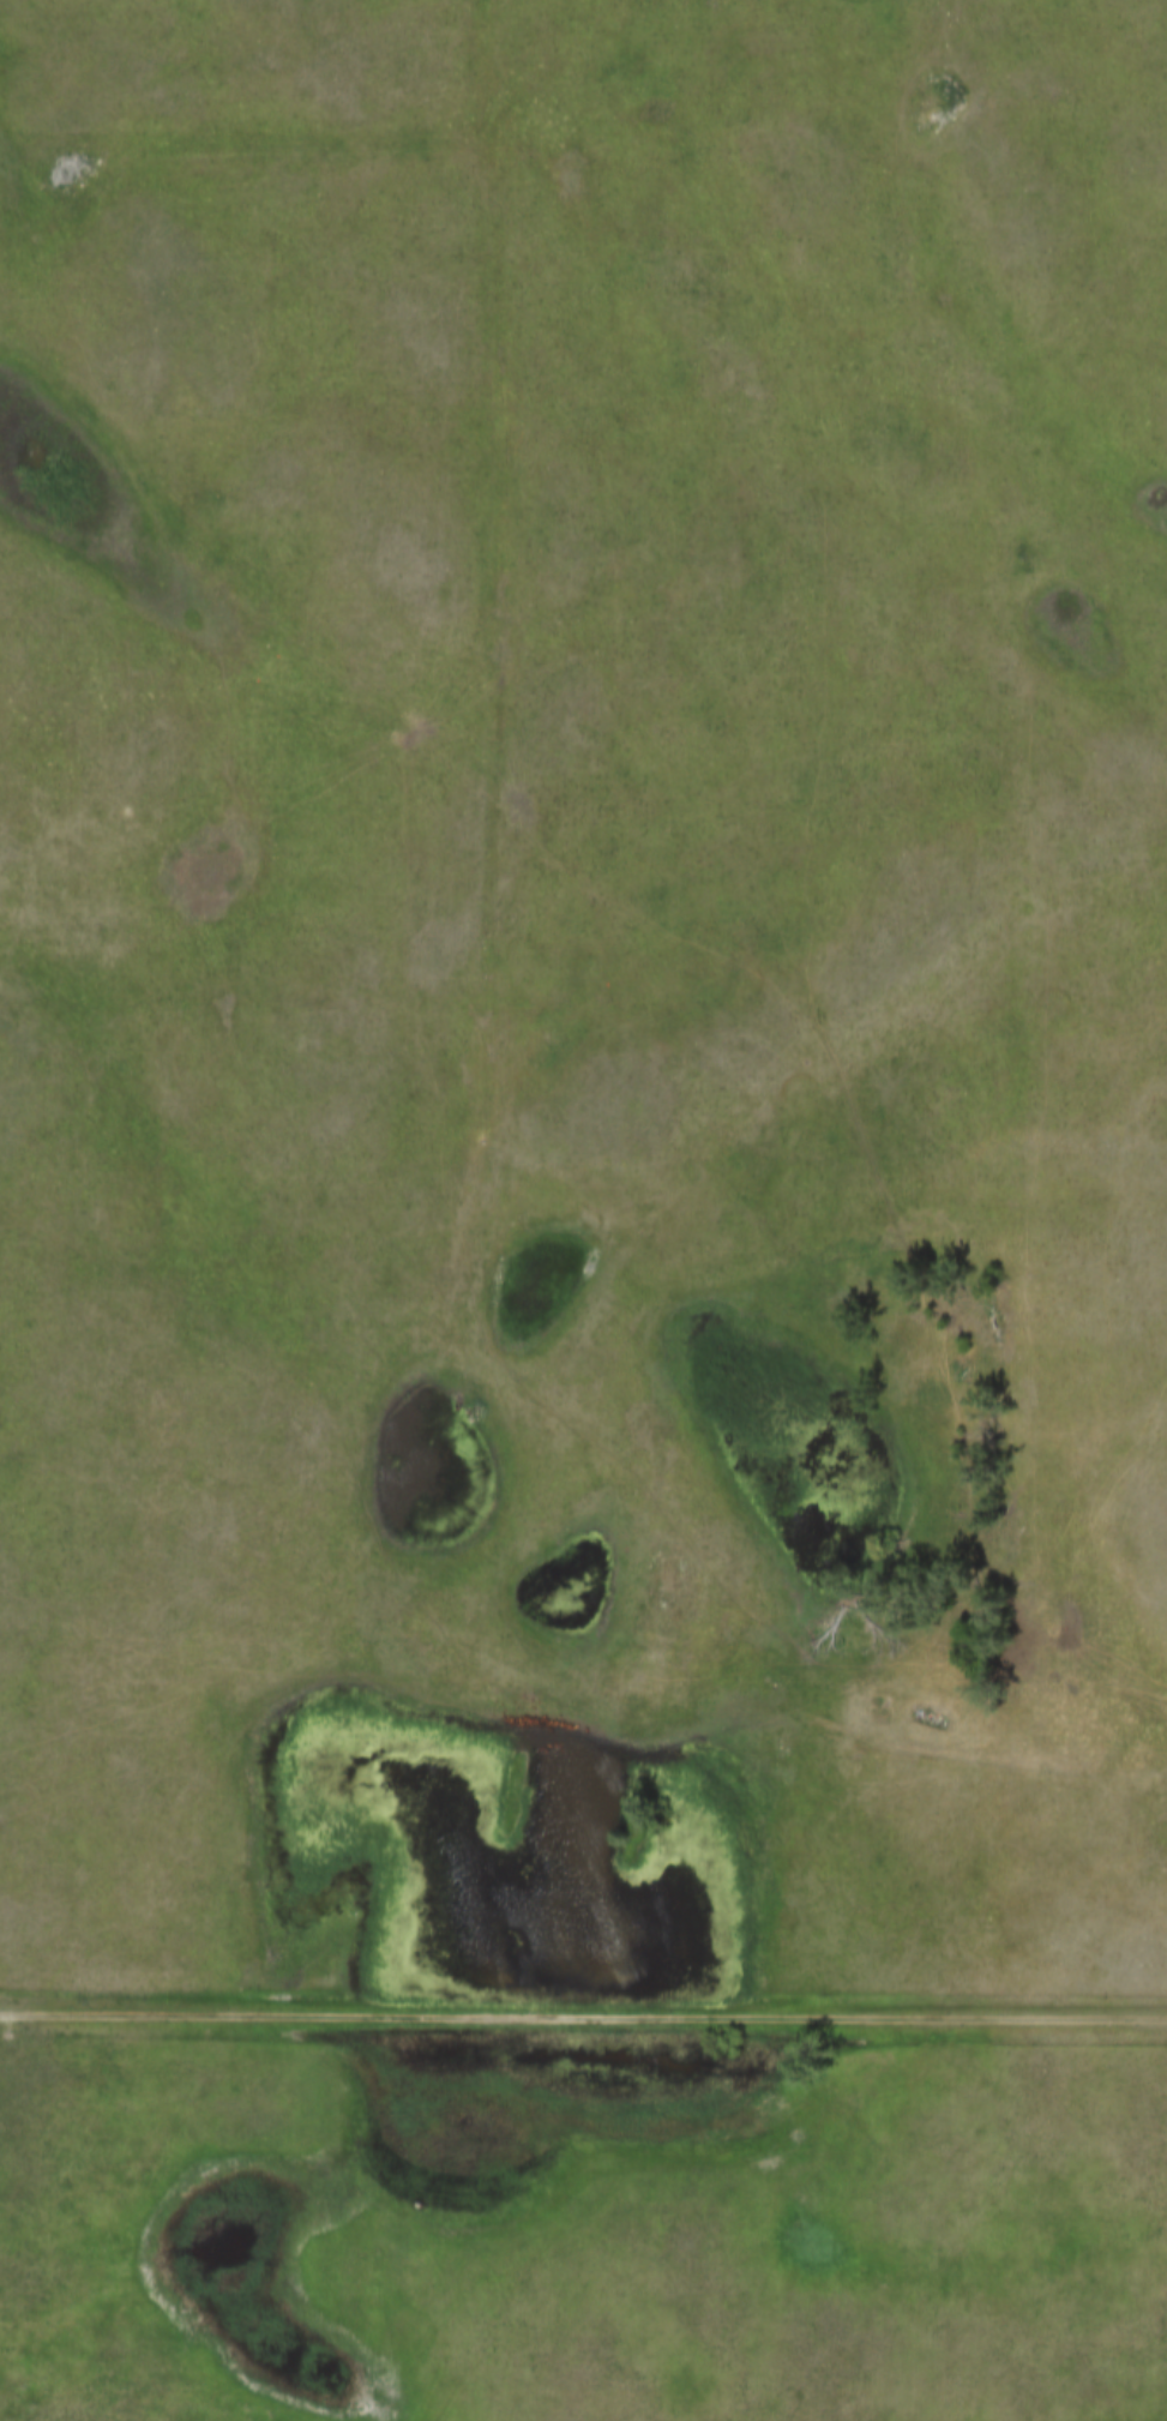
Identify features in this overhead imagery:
road: (583, 2018)

